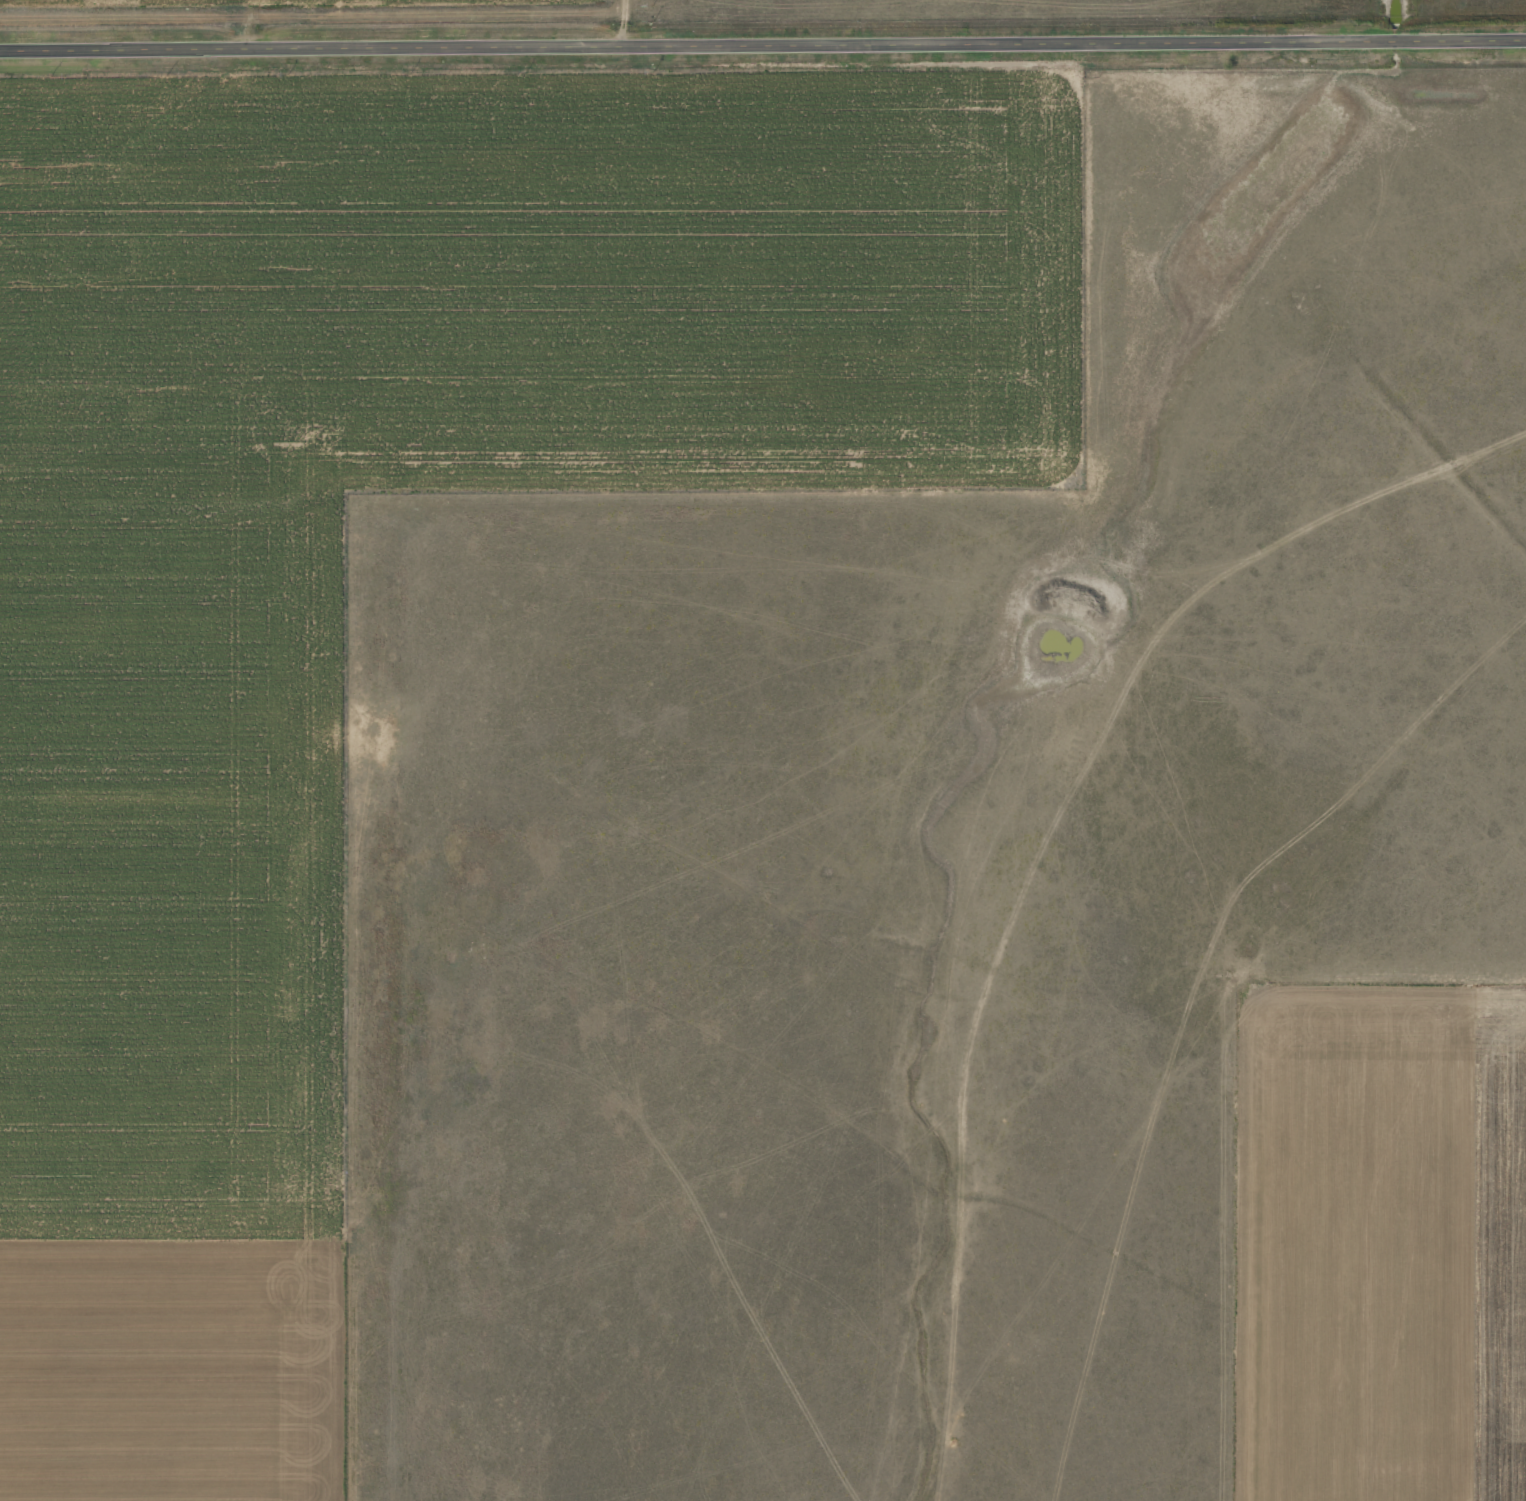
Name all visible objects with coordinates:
road: (638, 23)
road: (762, 46)

